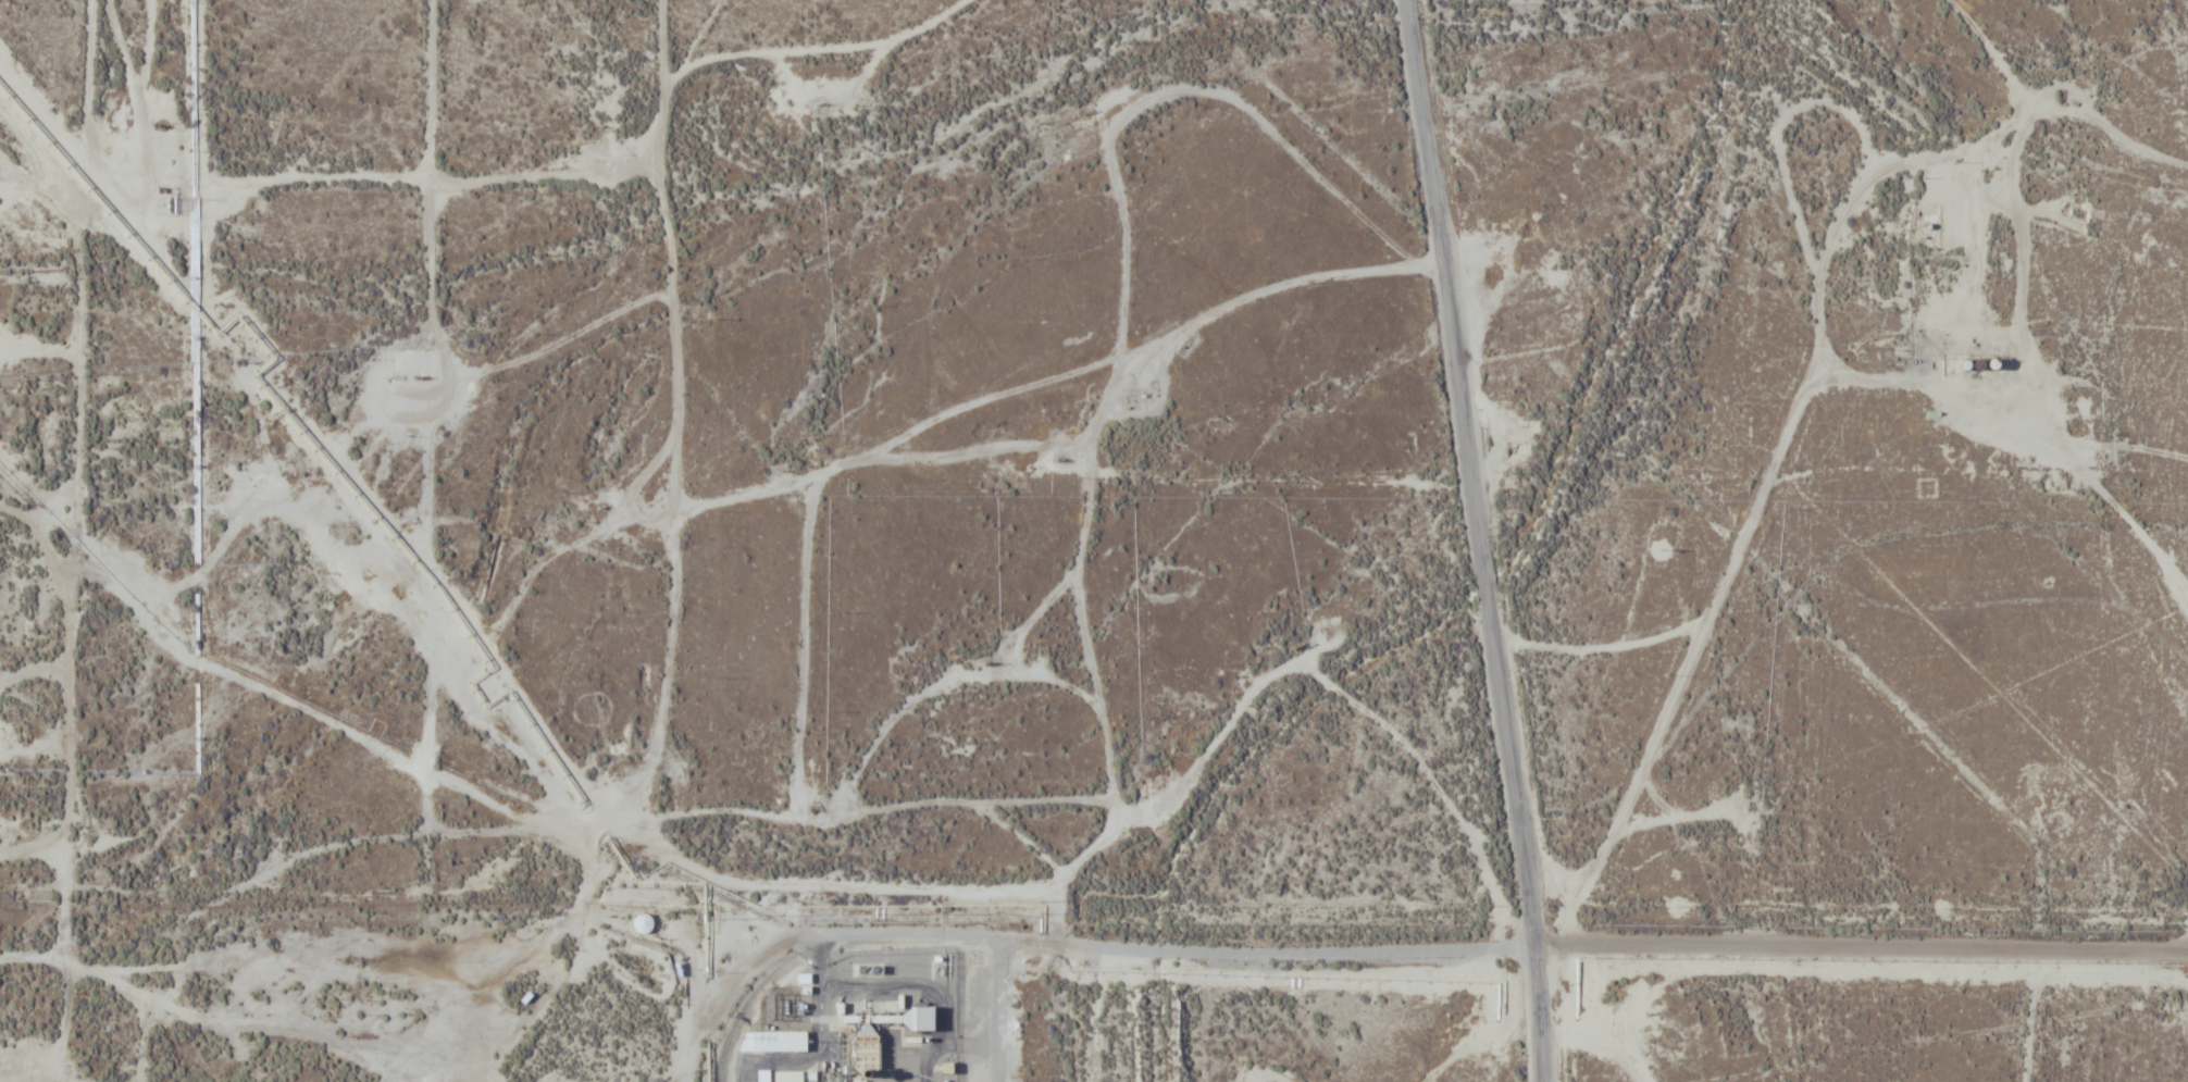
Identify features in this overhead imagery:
road: (1308, 120)
road: (1758, 508)
road: (252, 513)
road: (2141, 513)
road: (1480, 539)
road: (76, 542)
road: (422, 607)
road: (1017, 801)
road: (2161, 846)
building: (642, 923)
road: (1408, 953)
road: (1002, 1011)
road: (1600, 1013)
road: (1457, 1016)
building: (922, 1018)
building: (772, 1041)
building: (866, 1055)
building: (761, 1075)
building: (787, 1075)

